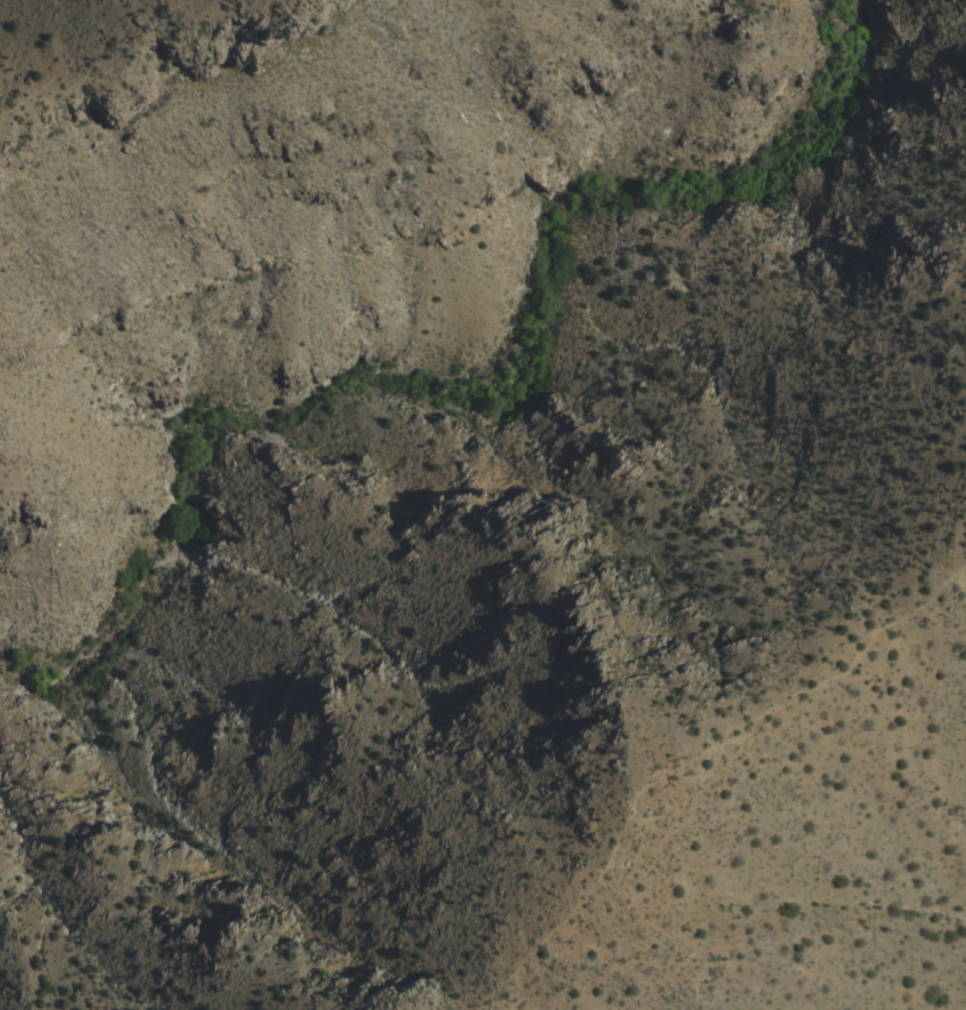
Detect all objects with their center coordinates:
road: (802, 133)
road: (692, 750)

